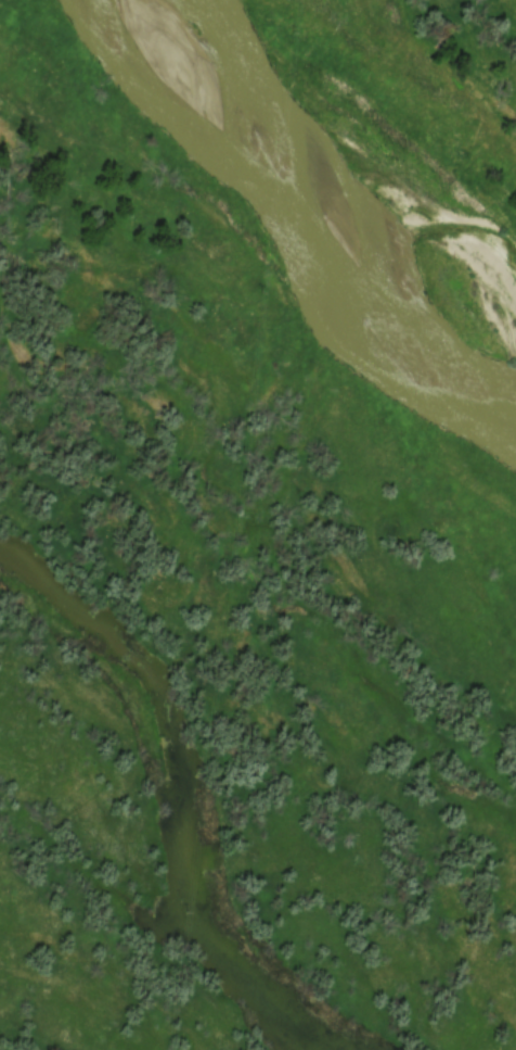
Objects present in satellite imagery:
river: (315, 224)

